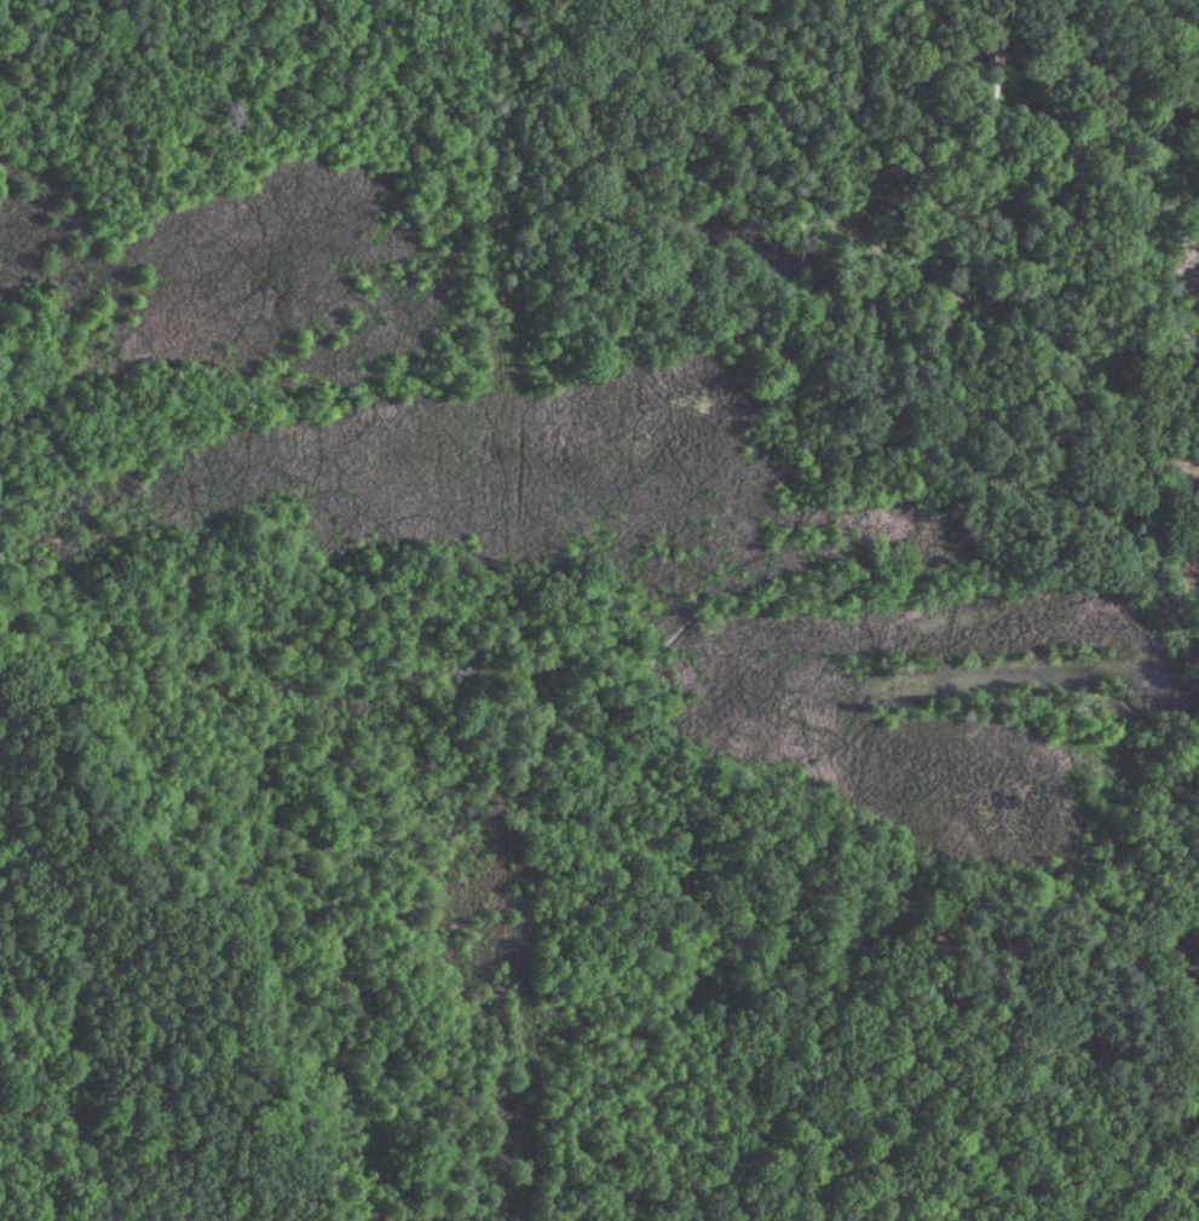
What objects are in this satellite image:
building: (991, 76)
road: (1171, 628)

